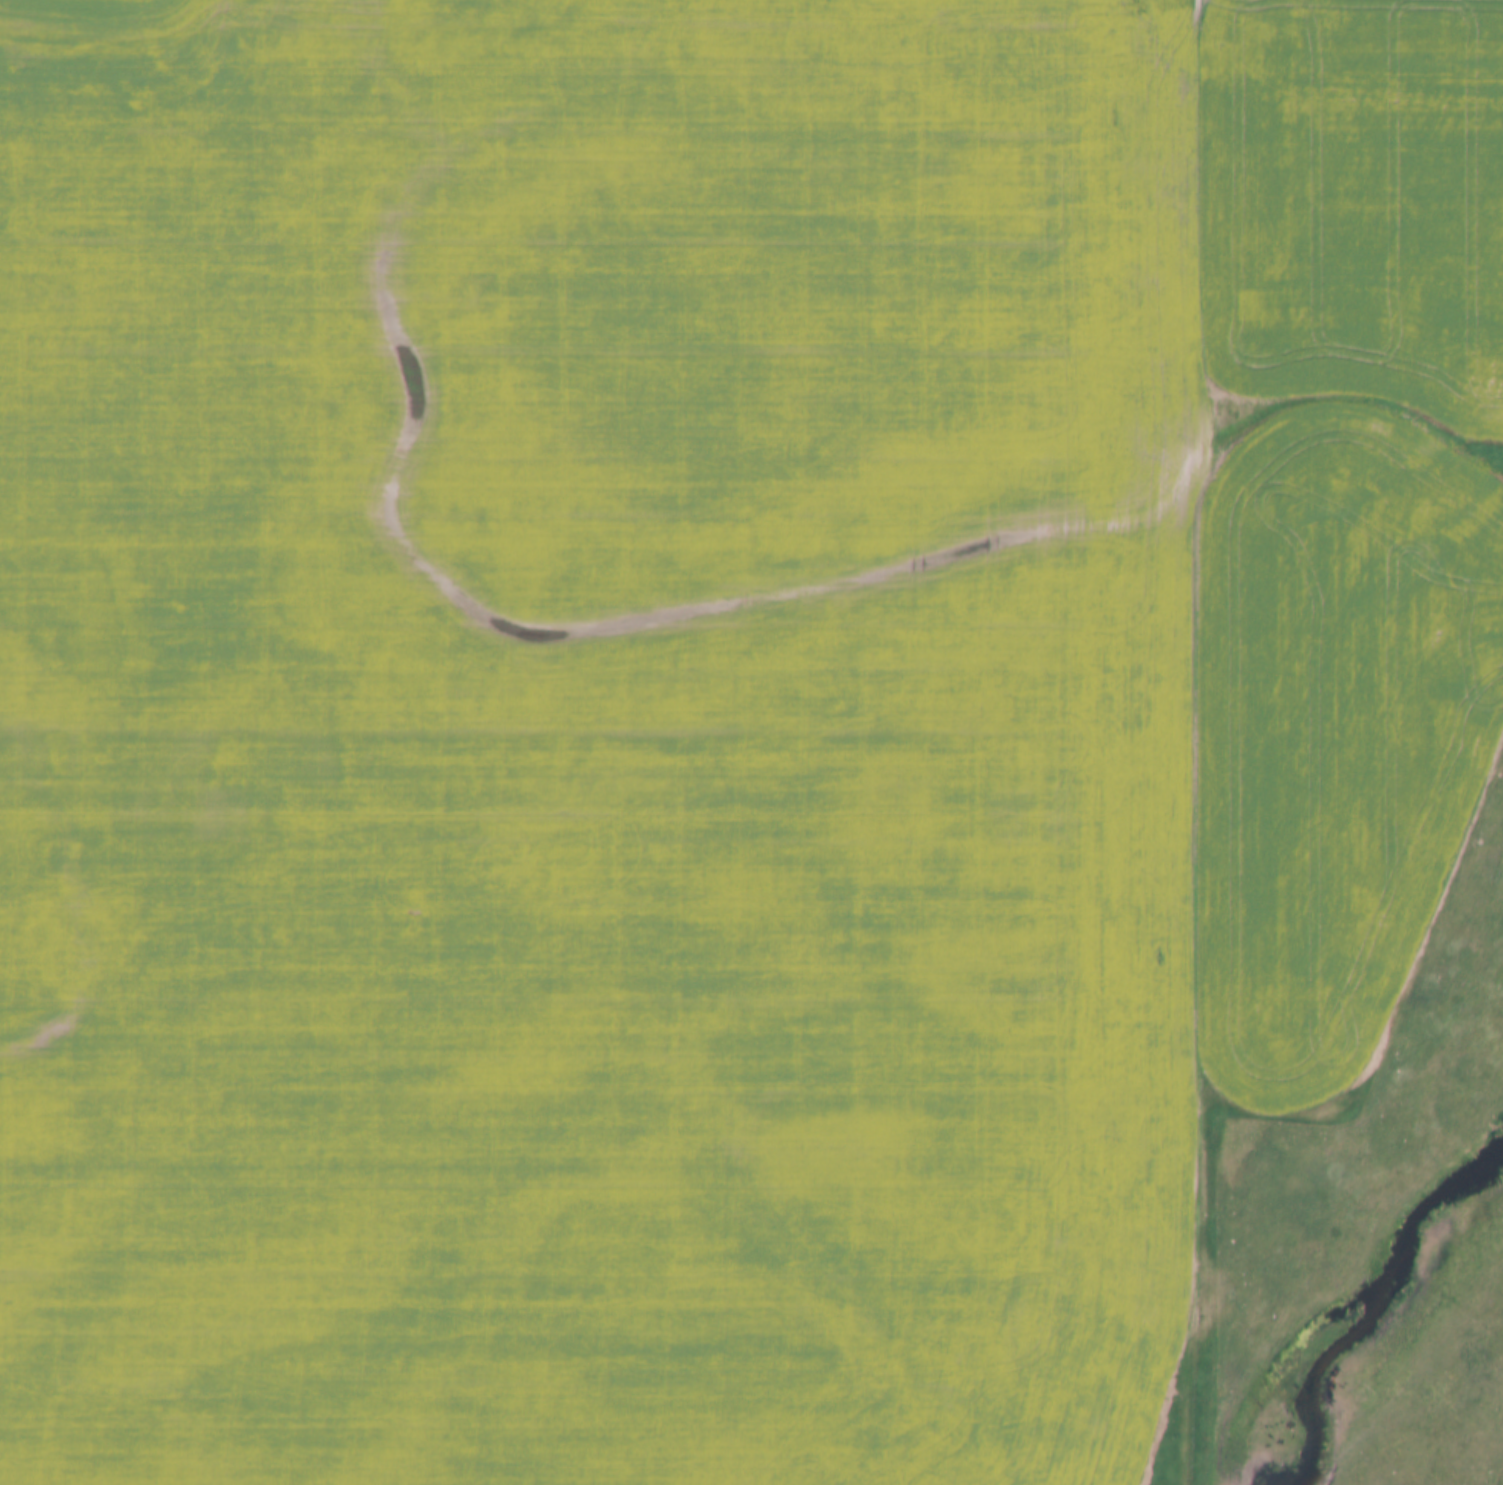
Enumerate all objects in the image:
road: (1198, 743)

